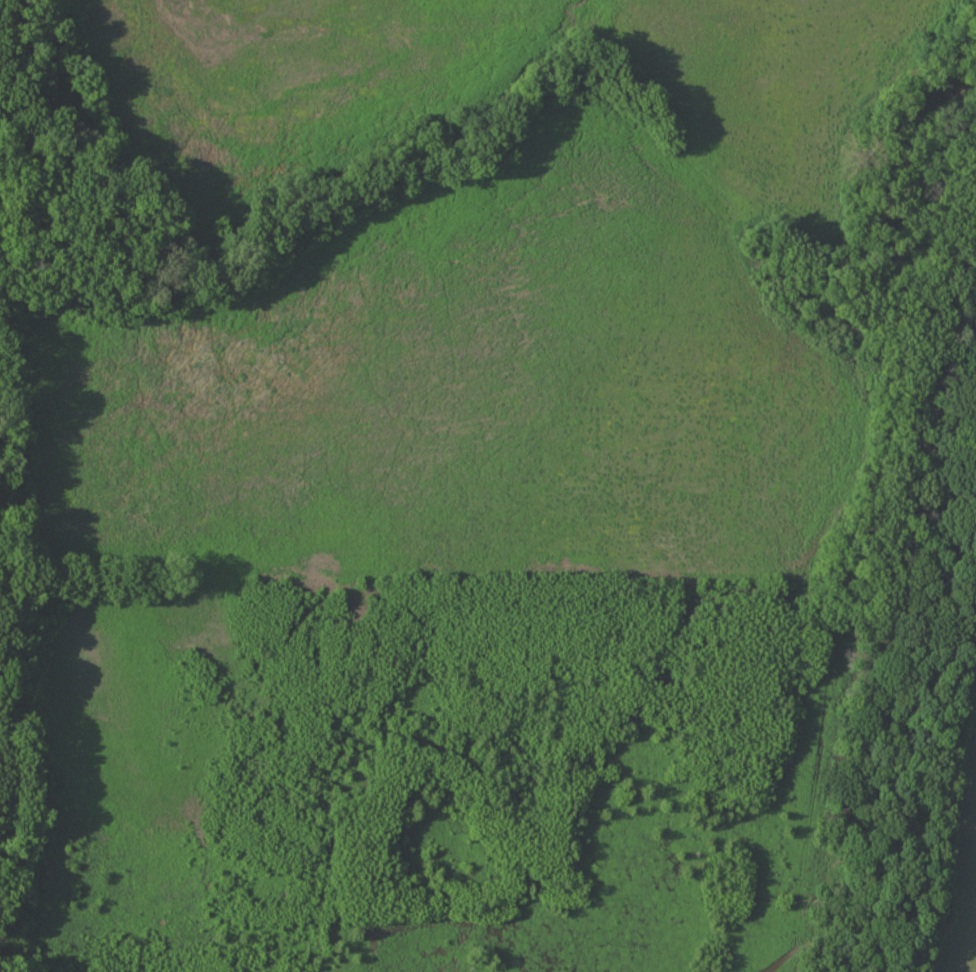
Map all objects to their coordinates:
road: (793, 953)

